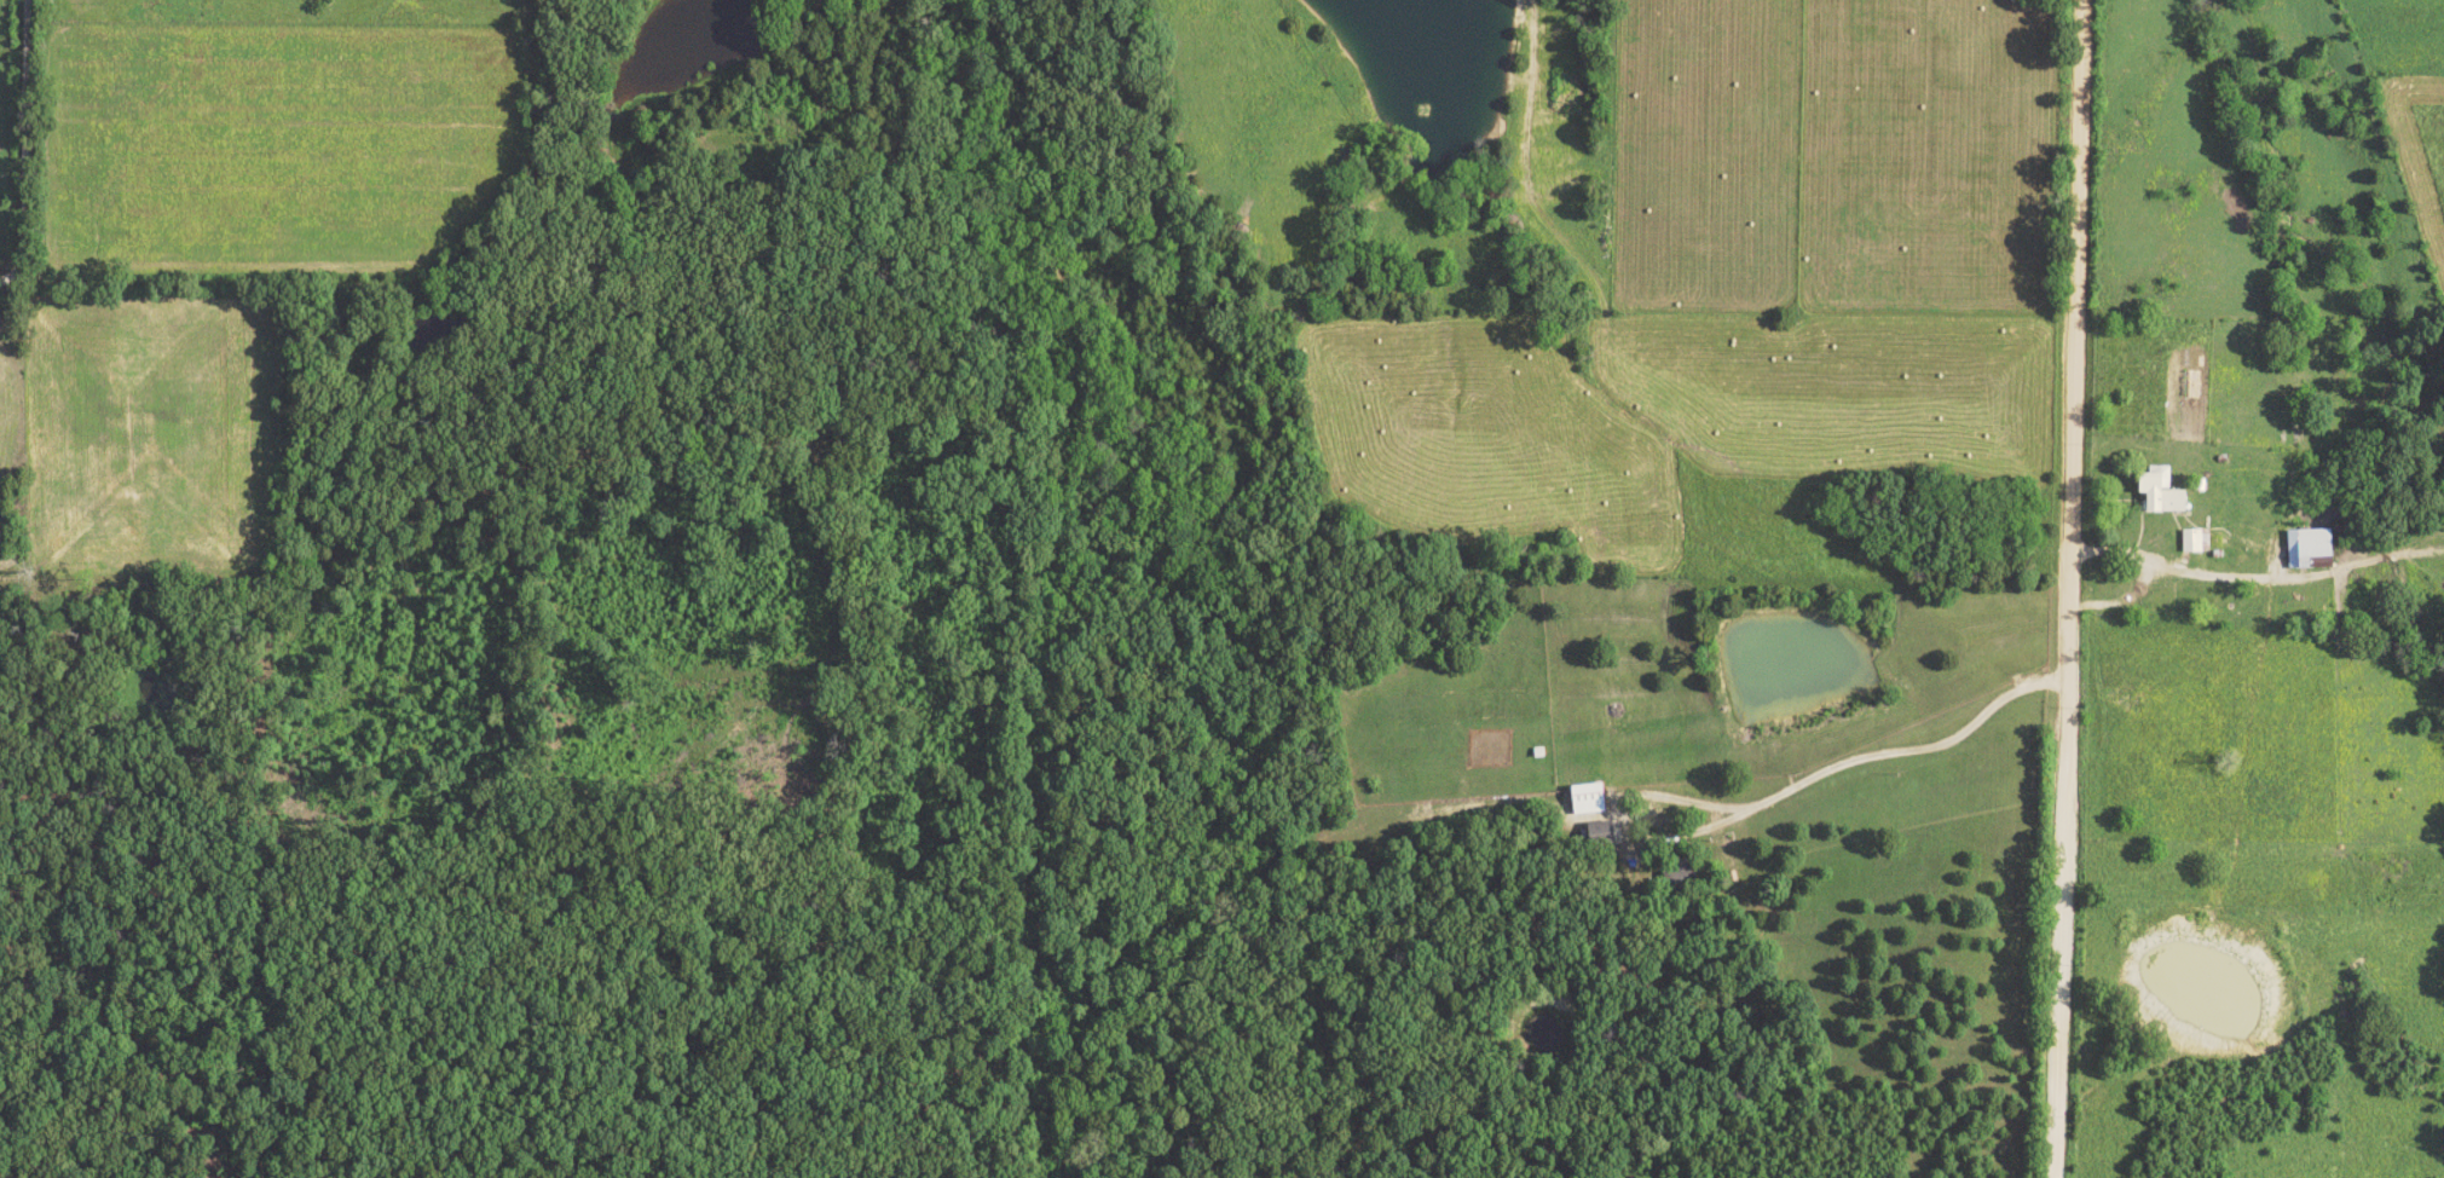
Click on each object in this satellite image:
road: (16, 145)
building: (2157, 490)
building: (2189, 541)
building: (2304, 545)
road: (2192, 573)
road: (2065, 589)
road: (2124, 606)
road: (1906, 751)
building: (1584, 798)
road: (1637, 839)

